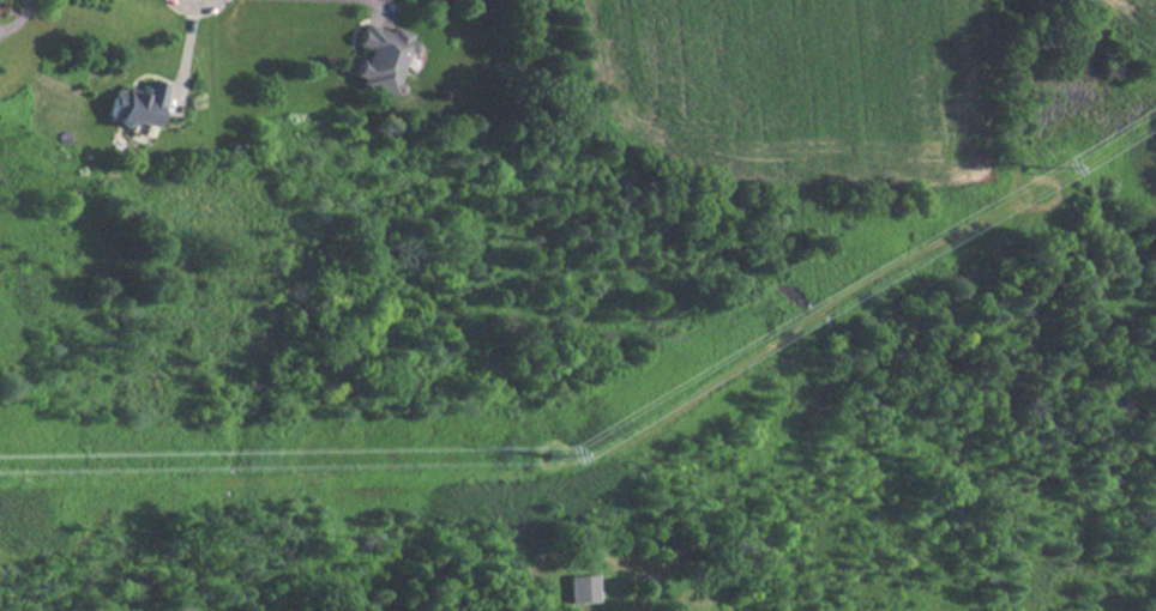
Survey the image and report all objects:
road: (379, 4)
road: (186, 52)
building: (381, 55)
building: (137, 104)
power tower: (1035, 167)
power tower: (549, 448)
building: (583, 587)

